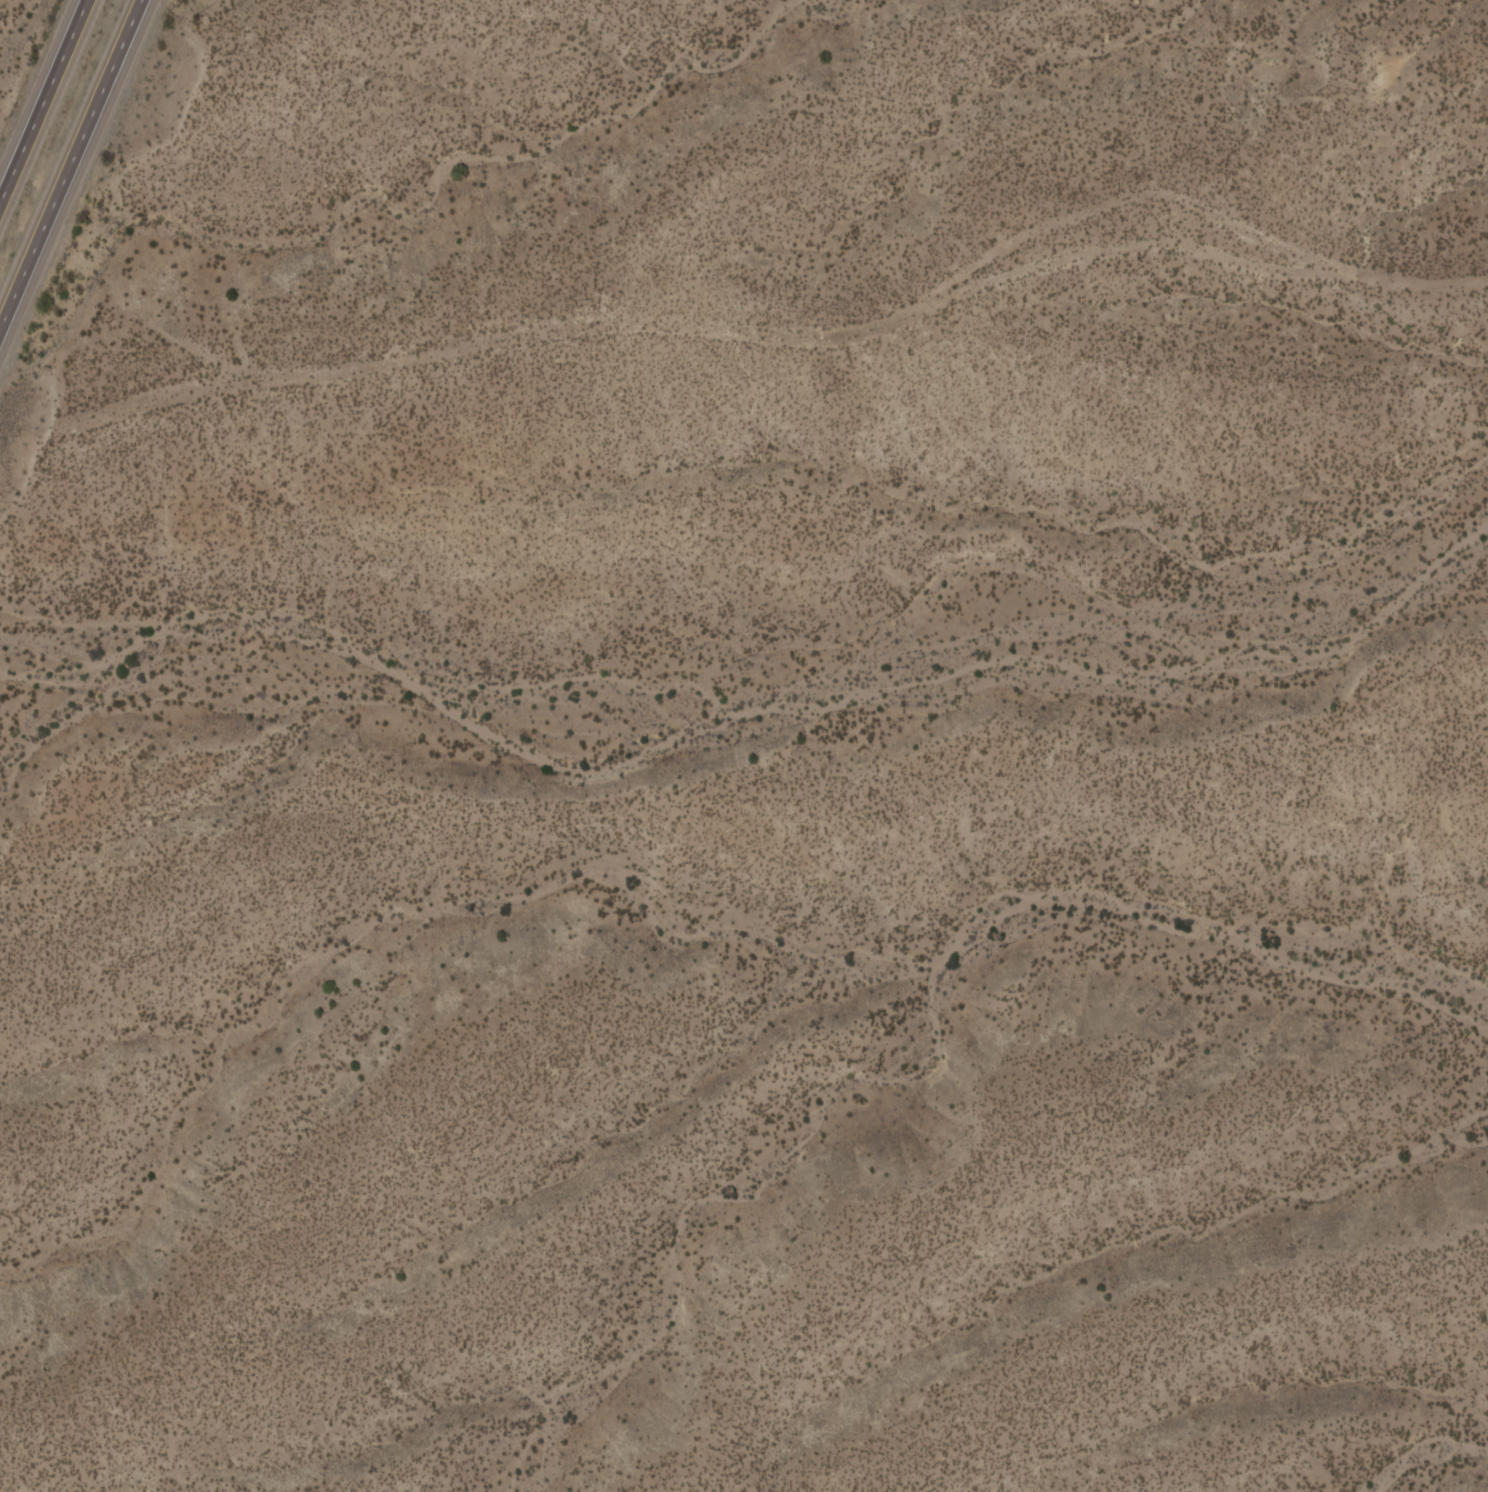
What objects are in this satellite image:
road: (42, 99)
road: (69, 163)

